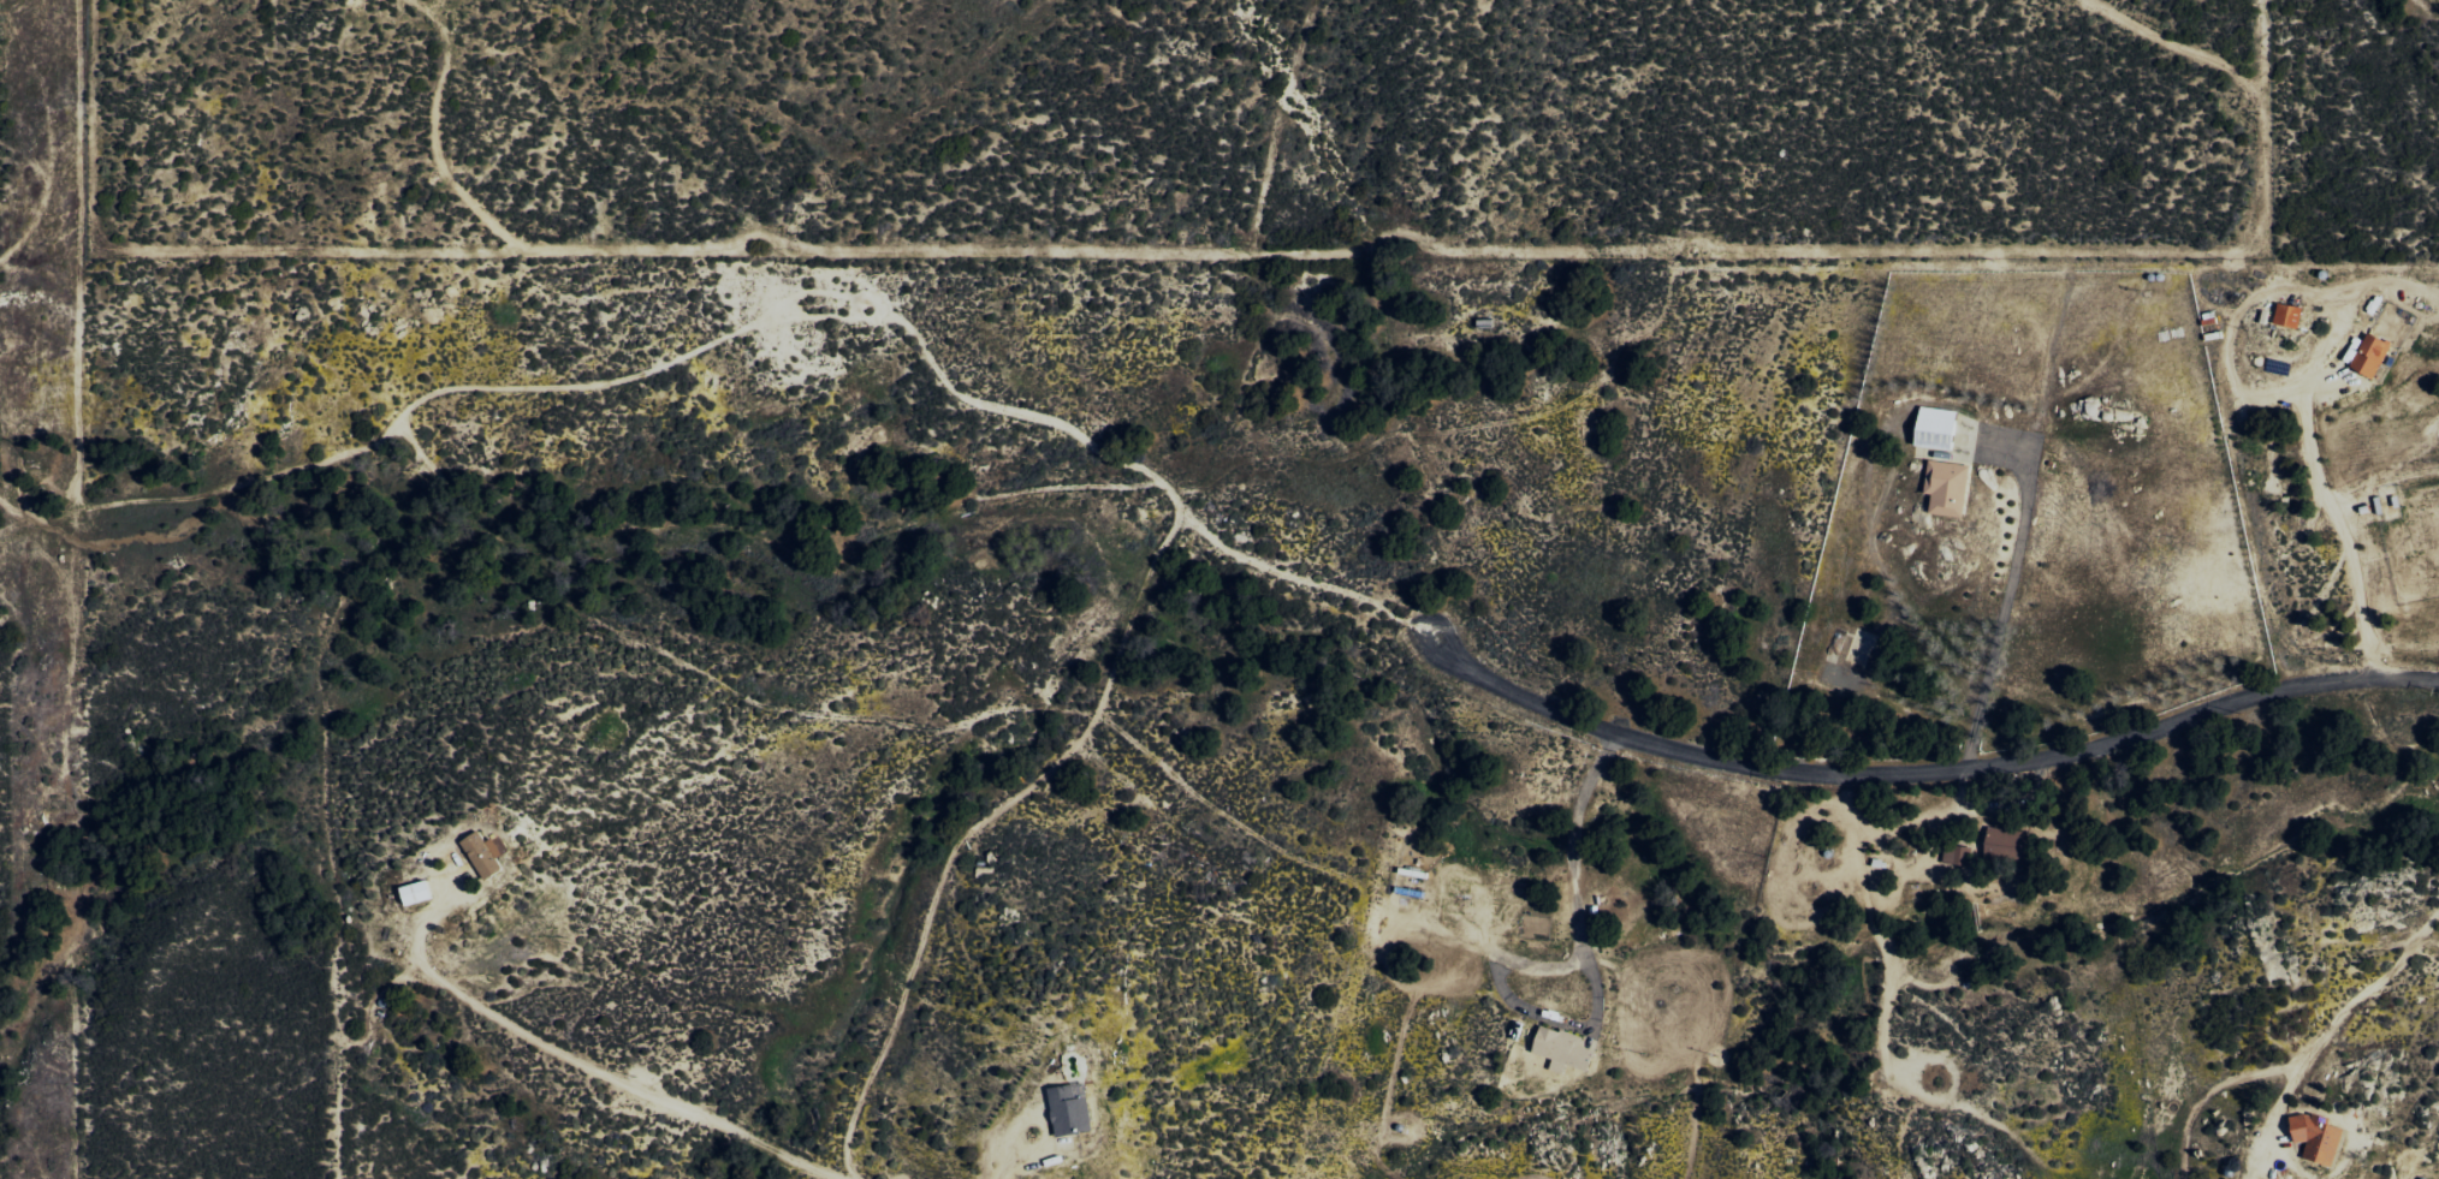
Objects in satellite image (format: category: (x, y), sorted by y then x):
building: (2289, 315)
building: (2372, 355)
building: (1937, 428)
building: (1948, 487)
road: (1918, 776)
building: (2008, 845)
building: (485, 853)
building: (1958, 855)
building: (416, 893)
building: (1563, 1049)
building: (1070, 1109)
building: (2319, 1138)

